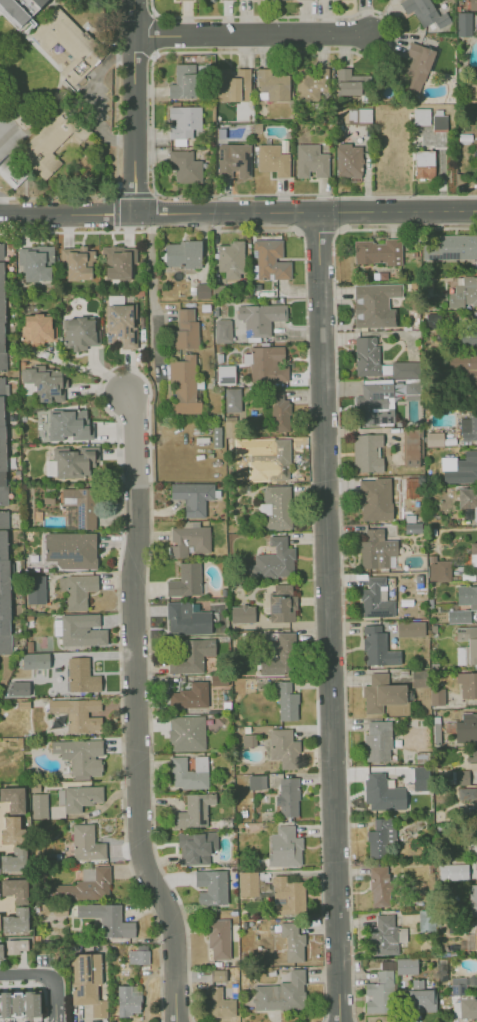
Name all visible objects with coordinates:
building: (225, 0)
building: (245, 0)
building: (42, 4)
building: (472, 4)
building: (16, 12)
building: (424, 12)
building: (463, 24)
road: (252, 34)
building: (41, 37)
building: (416, 67)
building: (182, 81)
building: (349, 81)
building: (233, 84)
building: (273, 86)
building: (309, 86)
road: (134, 106)
building: (358, 115)
building: (439, 122)
building: (182, 123)
building: (272, 159)
building: (233, 160)
building: (310, 161)
building: (348, 161)
building: (46, 165)
building: (184, 166)
road: (68, 213)
road: (306, 213)
building: (452, 247)
building: (375, 251)
building: (183, 253)
building: (230, 259)
building: (270, 260)
building: (37, 261)
building: (118, 261)
building: (75, 262)
building: (202, 290)
building: (464, 295)
road: (150, 297)
building: (373, 303)
building: (260, 318)
building: (431, 321)
building: (2, 322)
building: (157, 323)
building: (121, 325)
building: (37, 329)
building: (185, 330)
building: (222, 331)
building: (473, 331)
building: (78, 333)
building: (369, 355)
building: (468, 361)
road: (92, 362)
building: (265, 363)
road: (119, 365)
road: (88, 369)
building: (406, 370)
road: (128, 372)
building: (225, 374)
building: (43, 383)
building: (183, 384)
road: (98, 389)
building: (412, 389)
building: (374, 399)
building: (231, 400)
building: (279, 417)
building: (69, 424)
building: (469, 425)
building: (230, 427)
road: (114, 432)
building: (436, 439)
building: (2, 446)
building: (414, 448)
road: (117, 453)
building: (368, 453)
building: (446, 455)
building: (275, 459)
building: (70, 461)
building: (472, 466)
road: (309, 476)
building: (193, 497)
building: (468, 497)
building: (371, 500)
building: (81, 505)
building: (276, 509)
building: (413, 528)
building: (476, 530)
building: (188, 540)
building: (70, 549)
building: (474, 549)
building: (377, 550)
road: (340, 555)
building: (273, 560)
building: (440, 570)
building: (185, 580)
building: (4, 587)
building: (35, 589)
building: (77, 590)
building: (468, 597)
building: (376, 598)
building: (280, 603)
building: (241, 614)
building: (453, 615)
road: (328, 617)
building: (187, 618)
building: (78, 629)
building: (412, 629)
building: (251, 638)
building: (469, 641)
building: (374, 645)
building: (192, 656)
building: (279, 657)
building: (34, 660)
building: (81, 675)
building: (423, 676)
building: (468, 685)
building: (18, 689)
building: (383, 693)
building: (190, 696)
building: (435, 697)
building: (286, 700)
road: (135, 711)
building: (77, 713)
building: (467, 729)
building: (186, 732)
building: (439, 734)
building: (381, 742)
building: (283, 748)
building: (79, 754)
building: (475, 756)
building: (189, 772)
building: (420, 778)
building: (385, 793)
building: (78, 797)
building: (287, 797)
building: (13, 799)
building: (301, 801)
building: (476, 804)
building: (38, 805)
building: (193, 810)
building: (476, 828)
building: (11, 830)
building: (380, 837)
building: (86, 842)
building: (196, 846)
building: (284, 847)
building: (14, 860)
building: (453, 871)
building: (247, 883)
building: (83, 885)
building: (381, 885)
building: (211, 886)
building: (15, 889)
building: (287, 896)
building: (473, 901)
road: (4, 905)
building: (107, 919)
building: (15, 920)
building: (425, 920)
building: (385, 934)
building: (404, 934)
building: (476, 934)
building: (218, 937)
building: (293, 940)
building: (15, 946)
building: (0, 951)
building: (138, 957)
road: (21, 962)
building: (406, 967)
building: (384, 971)
road: (24, 973)
building: (218, 975)
road: (27, 981)
road: (3, 982)
road: (16, 982)
building: (85, 983)
road: (38, 984)
building: (461, 984)
building: (281, 993)
road: (52, 994)
building: (421, 996)
building: (378, 997)
building: (126, 1000)
building: (19, 1004)
building: (216, 1004)
building: (469, 1009)
road: (56, 1017)
road: (52, 1018)

